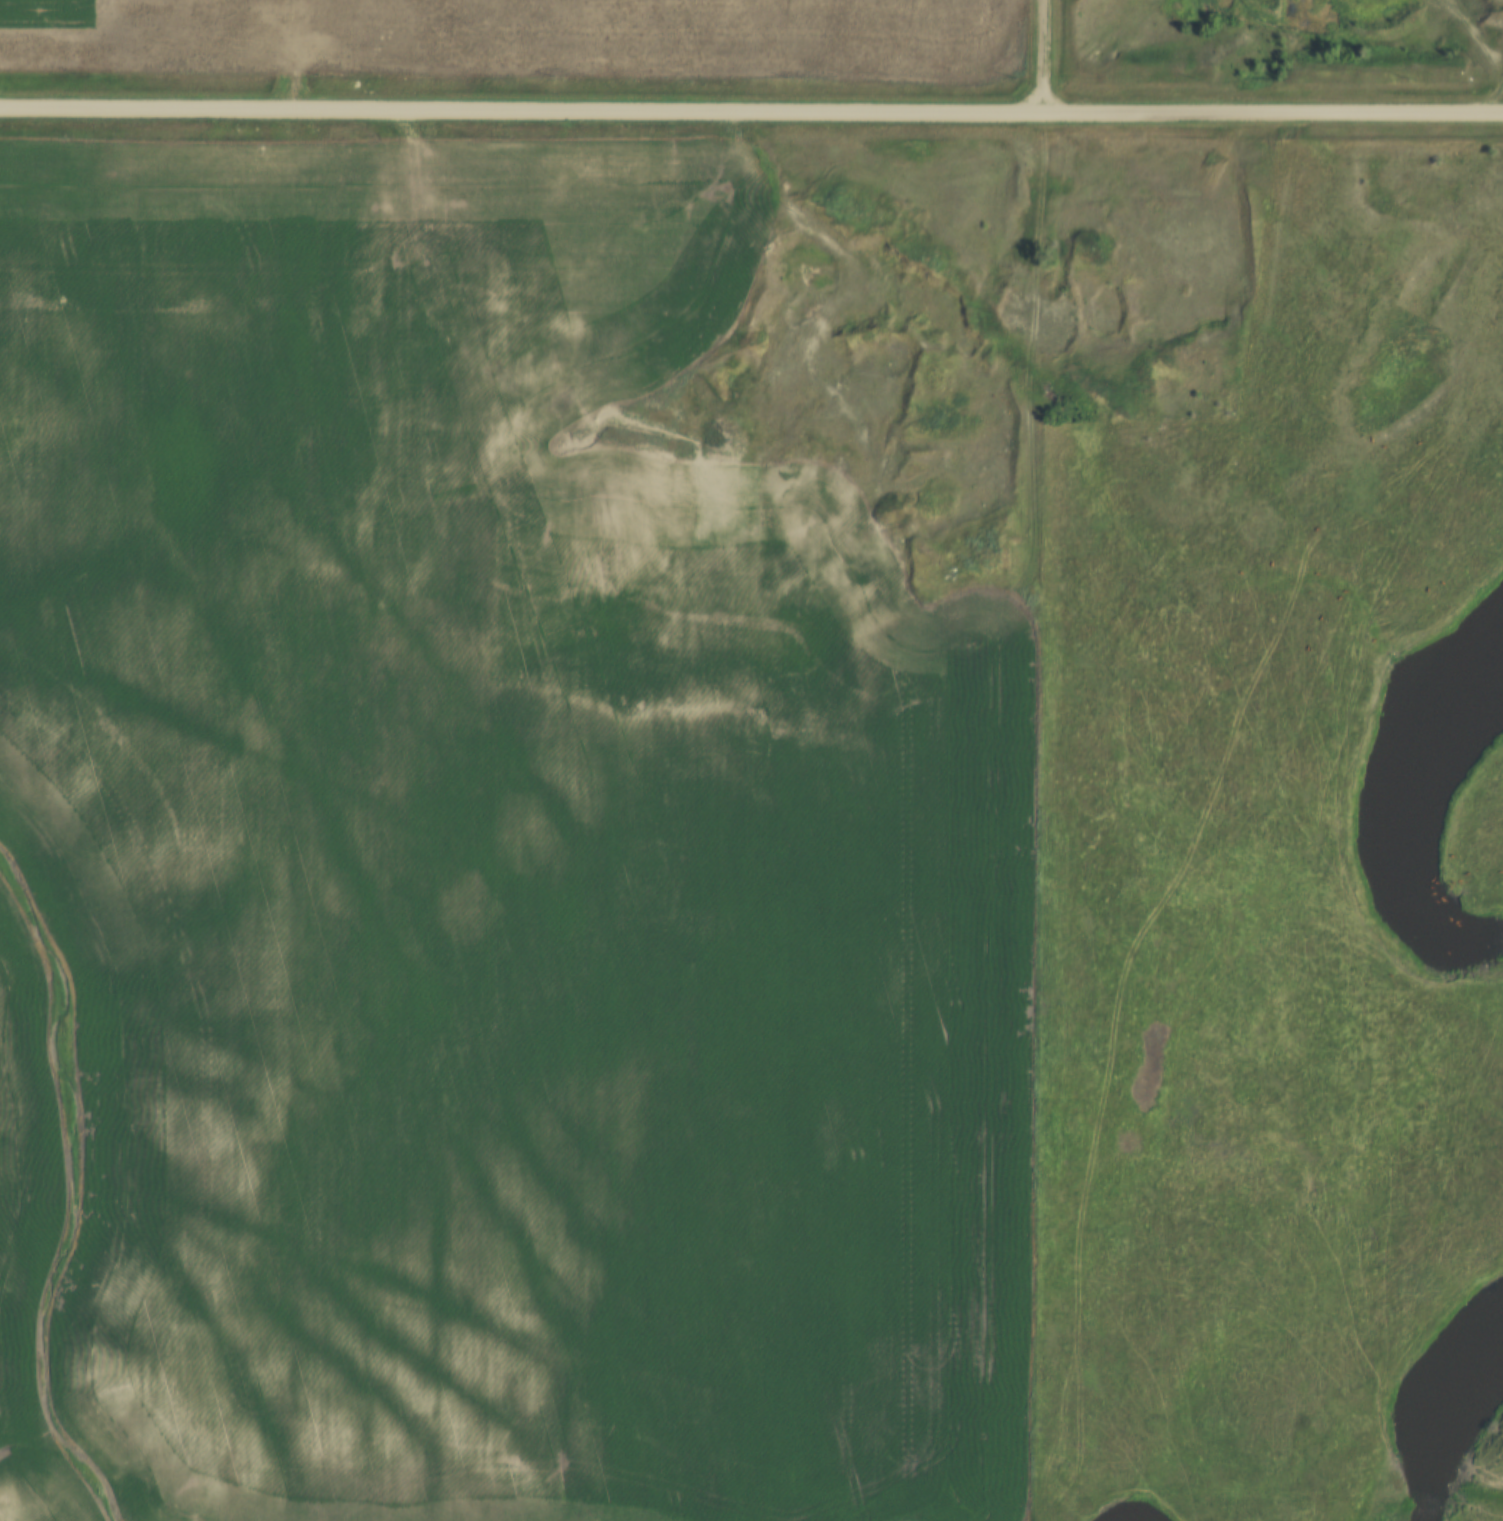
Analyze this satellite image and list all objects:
quarry: (1351, 27)
road: (1045, 54)
road: (1488, 87)
road: (751, 110)
road: (819, 339)
river: (1383, 815)
river: (1437, 1417)
river: (1122, 1516)

